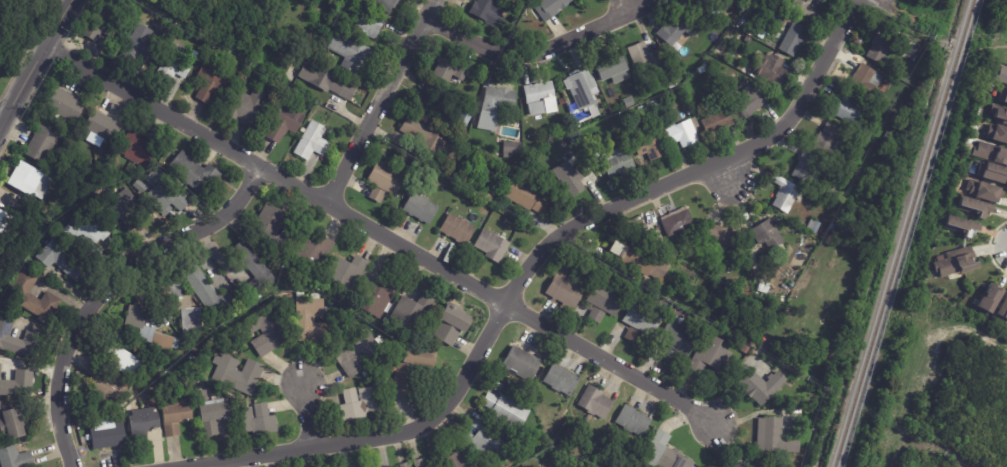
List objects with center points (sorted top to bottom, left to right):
building: (681, 0)
building: (686, 1)
road: (894, 3)
building: (8, 5)
building: (385, 5)
building: (553, 8)
building: (809, 10)
building: (488, 12)
building: (718, 12)
building: (101, 23)
building: (164, 23)
building: (369, 23)
building: (239, 25)
building: (746, 25)
building: (0, 26)
building: (262, 27)
building: (511, 30)
building: (675, 30)
building: (762, 35)
building: (748, 40)
building: (794, 40)
road: (946, 40)
building: (140, 45)
building: (879, 45)
building: (351, 52)
road: (531, 52)
building: (646, 58)
road: (35, 63)
building: (177, 64)
building: (613, 67)
building: (451, 69)
building: (704, 69)
building: (772, 69)
building: (1001, 75)
building: (863, 80)
building: (266, 81)
building: (213, 82)
building: (328, 82)
building: (582, 89)
building: (1003, 93)
building: (433, 99)
building: (501, 99)
building: (544, 99)
road: (380, 101)
building: (753, 102)
building: (630, 103)
building: (656, 104)
building: (68, 107)
building: (247, 107)
building: (846, 108)
building: (644, 109)
building: (690, 112)
building: (1000, 114)
road: (2, 116)
building: (466, 121)
building: (718, 121)
building: (284, 122)
building: (103, 127)
building: (483, 130)
building: (969, 131)
building: (996, 132)
building: (685, 133)
building: (887, 136)
building: (430, 138)
building: (827, 140)
building: (313, 142)
building: (44, 145)
building: (511, 148)
building: (140, 149)
building: (653, 149)
building: (990, 152)
building: (839, 158)
building: (621, 163)
building: (804, 165)
building: (858, 166)
road: (727, 168)
building: (991, 171)
building: (196, 173)
building: (127, 174)
building: (572, 177)
building: (31, 180)
building: (385, 181)
building: (141, 187)
building: (982, 190)
building: (782, 193)
building: (168, 195)
building: (526, 195)
building: (970, 206)
building: (422, 208)
building: (124, 210)
building: (674, 221)
building: (9, 225)
building: (959, 225)
building: (640, 226)
building: (813, 226)
building: (652, 227)
building: (275, 230)
building: (459, 230)
road: (379, 232)
building: (89, 233)
railway: (904, 233)
building: (718, 235)
building: (765, 235)
building: (492, 246)
building: (0, 248)
building: (315, 255)
building: (639, 258)
building: (64, 259)
building: (957, 262)
road: (527, 268)
building: (254, 271)
building: (349, 274)
building: (285, 277)
road: (108, 287)
building: (761, 288)
building: (562, 291)
building: (212, 294)
building: (987, 297)
building: (35, 298)
building: (603, 298)
building: (377, 299)
building: (778, 299)
building: (707, 302)
building: (1002, 308)
building: (185, 309)
building: (415, 313)
building: (593, 314)
building: (640, 319)
building: (314, 322)
building: (451, 324)
building: (267, 331)
building: (151, 333)
building: (631, 335)
building: (676, 338)
building: (19, 341)
building: (358, 353)
building: (666, 355)
building: (708, 355)
building: (827, 357)
building: (193, 359)
building: (519, 362)
building: (128, 364)
building: (188, 364)
building: (415, 367)
building: (239, 375)
building: (559, 380)
building: (18, 384)
building: (111, 386)
building: (759, 386)
building: (593, 402)
building: (361, 404)
building: (504, 410)
road: (307, 415)
building: (215, 418)
building: (177, 419)
building: (631, 420)
building: (258, 421)
building: (13, 425)
building: (144, 425)
building: (771, 436)
building: (109, 438)
building: (483, 440)
building: (658, 452)
building: (16, 458)
building: (452, 458)
building: (415, 462)
building: (401, 464)
building: (736, 465)

